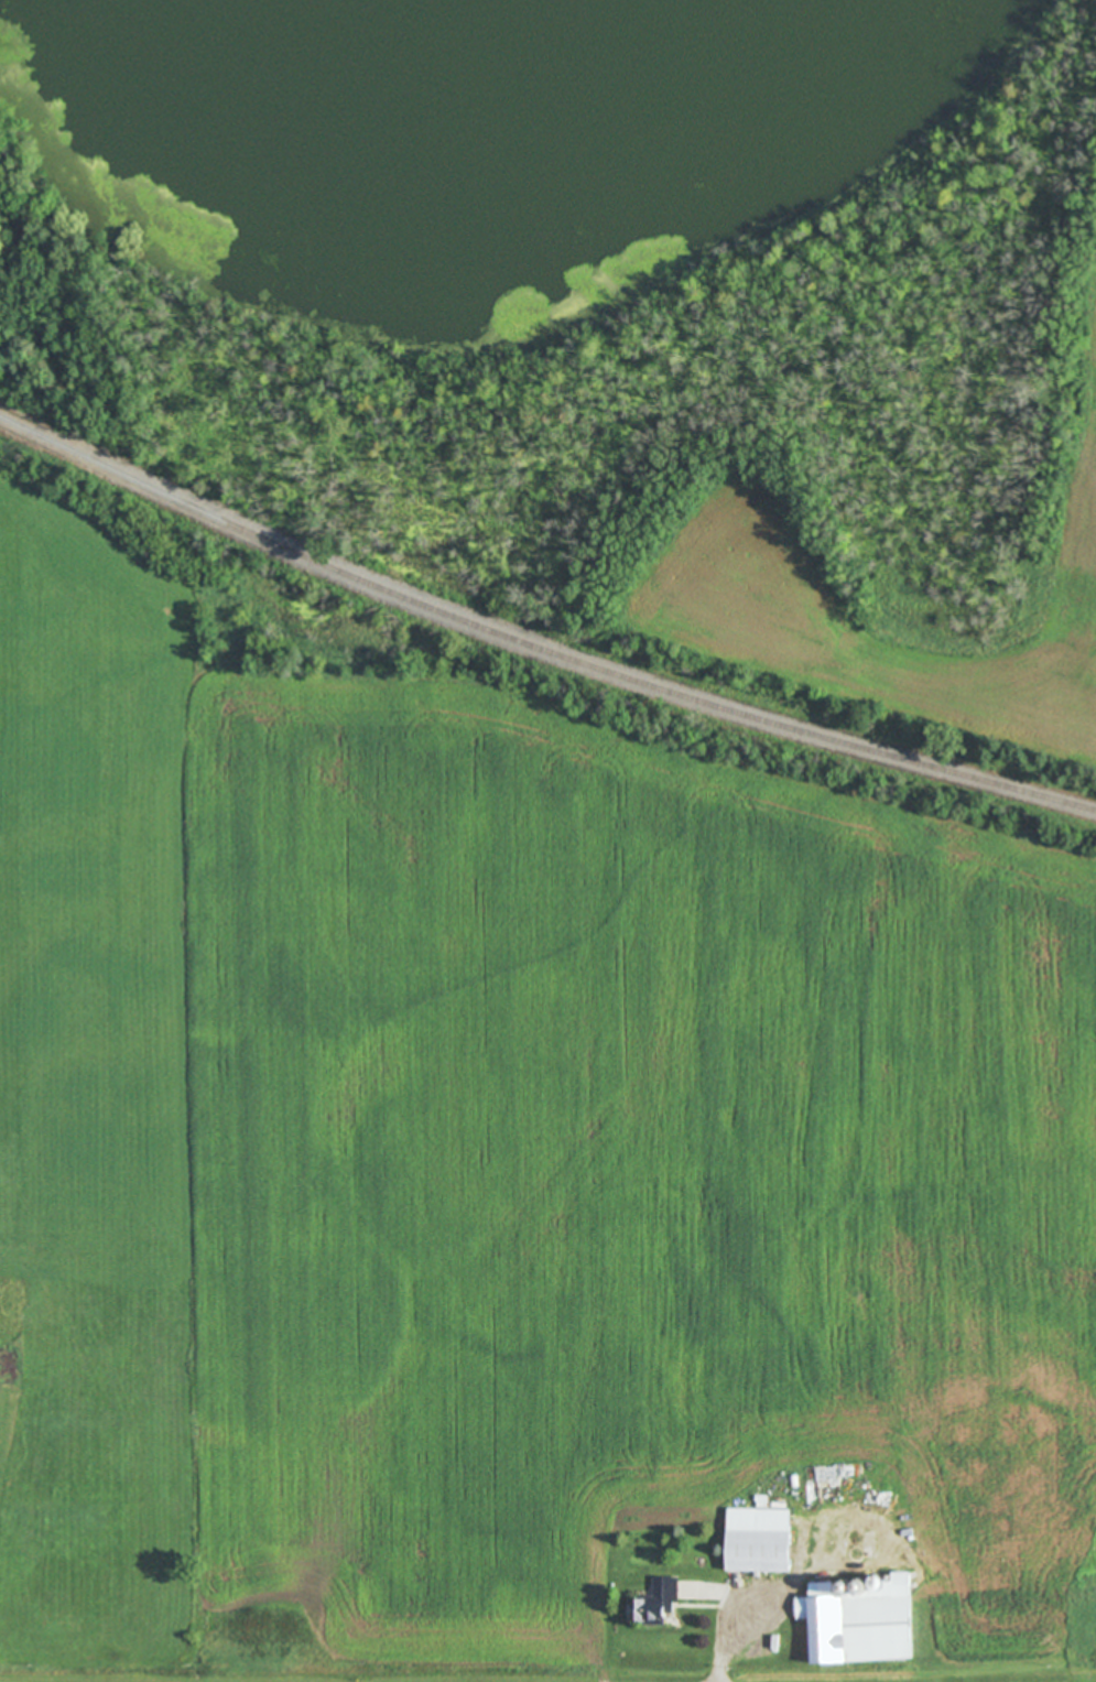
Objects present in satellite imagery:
railway: (535, 645)
building: (767, 1506)
building: (757, 1542)
building: (653, 1603)
road: (729, 1642)

